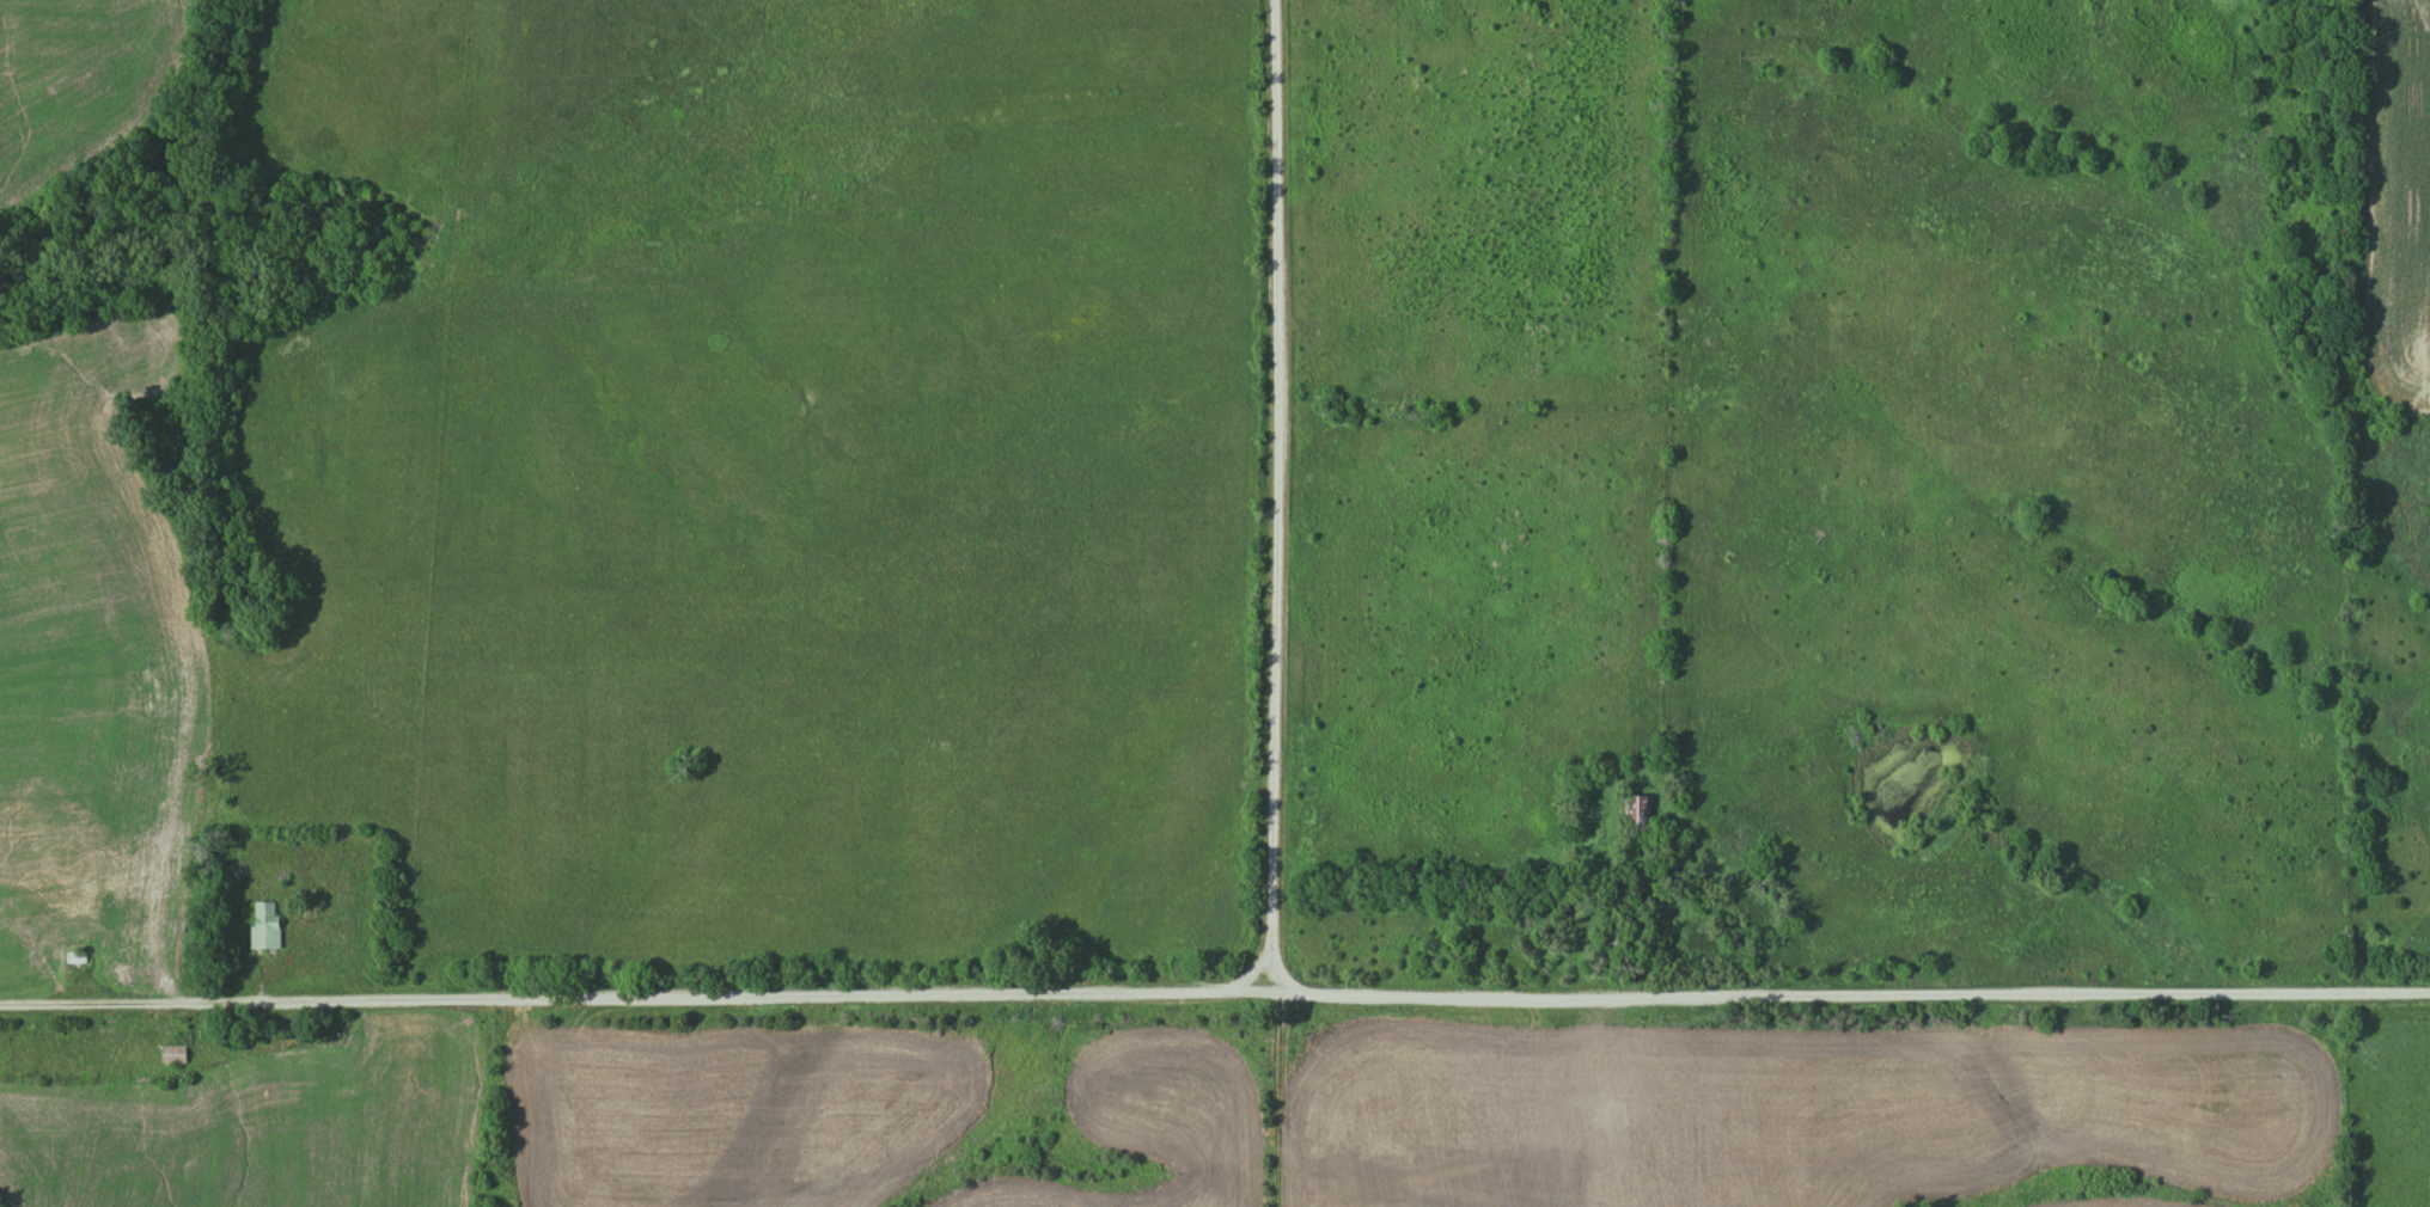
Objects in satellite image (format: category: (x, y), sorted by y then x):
road: (1280, 496)
building: (267, 926)
building: (77, 957)
road: (1857, 1000)
road: (643, 1001)
building: (176, 1055)
road: (1284, 1099)

